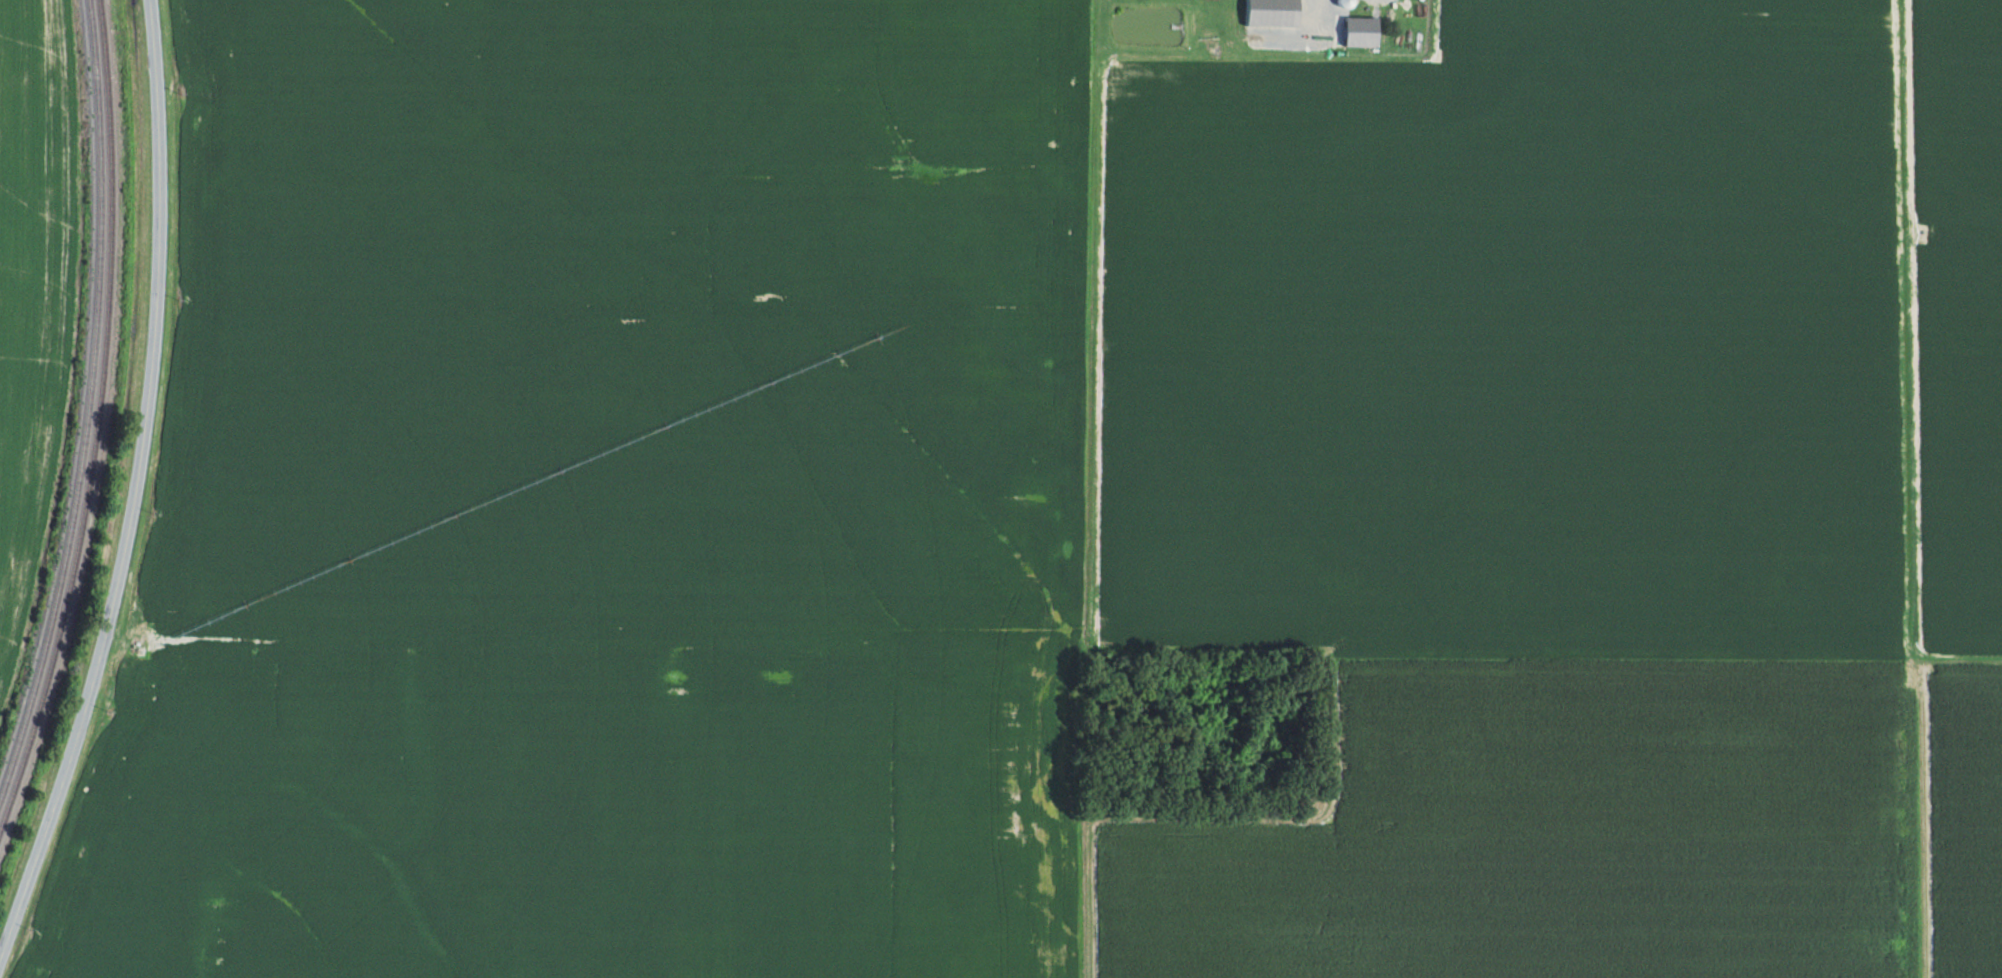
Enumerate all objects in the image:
building: (1274, 12)
building: (1363, 30)
railway: (88, 398)
railway: (97, 419)
road: (134, 487)

